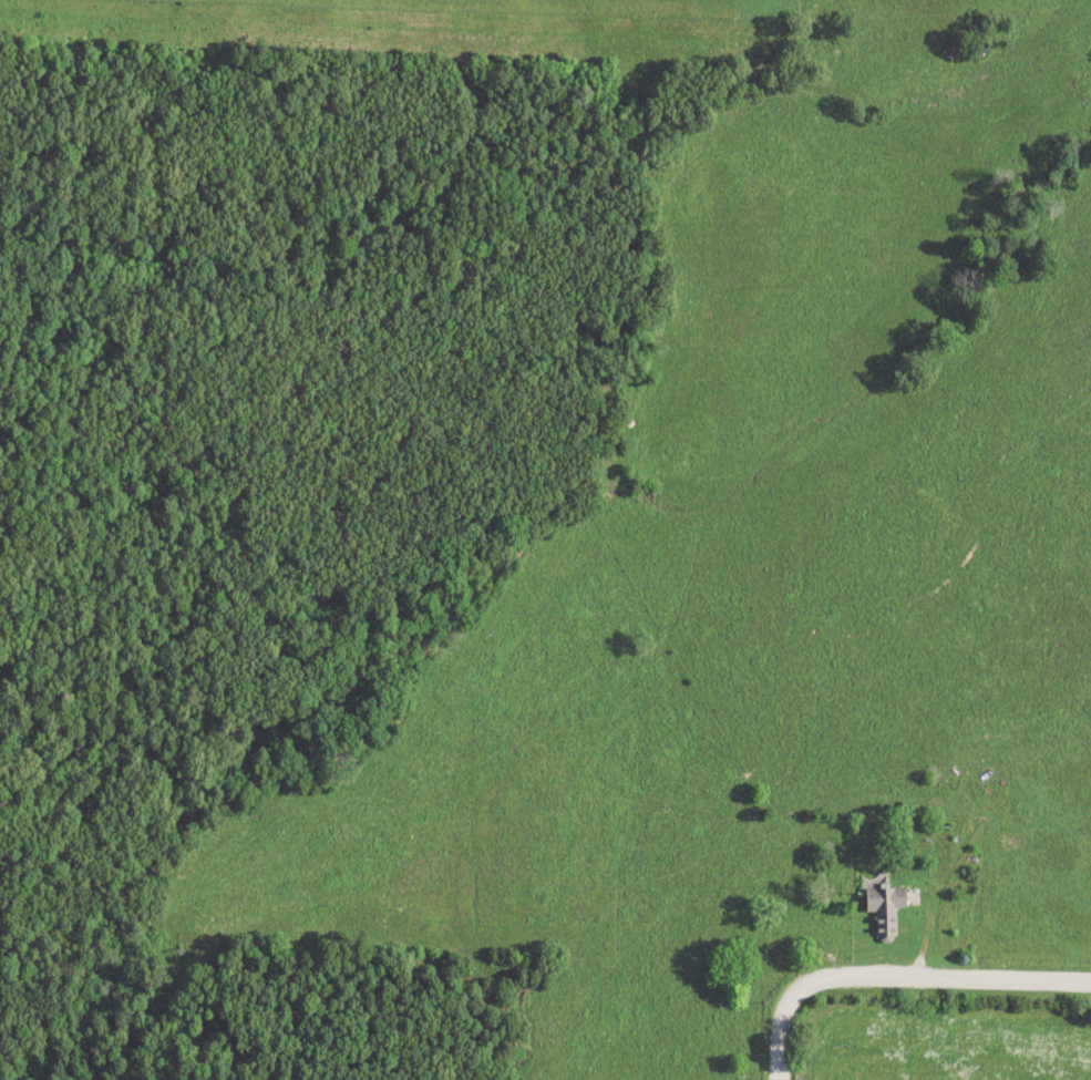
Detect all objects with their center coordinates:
road: (926, 915)
road: (895, 979)

